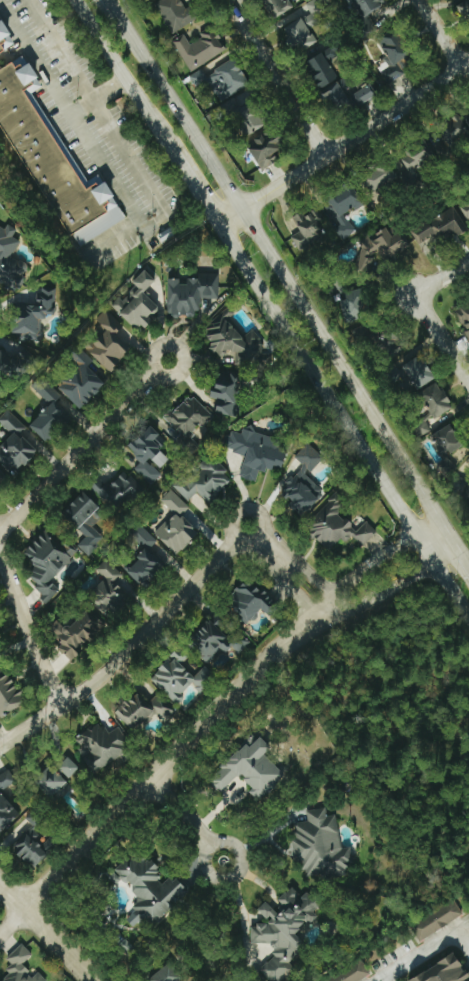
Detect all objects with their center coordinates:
road: (106, 0)
building: (278, 6)
building: (465, 6)
building: (363, 8)
building: (175, 13)
building: (303, 28)
road: (439, 34)
building: (199, 48)
building: (395, 55)
road: (276, 78)
building: (221, 79)
road: (133, 82)
building: (336, 83)
road: (99, 93)
road: (68, 107)
building: (247, 117)
parking lot: (91, 130)
building: (456, 130)
road: (345, 144)
building: (45, 147)
building: (266, 148)
building: (417, 159)
building: (379, 176)
road: (203, 194)
building: (464, 205)
building: (342, 210)
building: (438, 227)
building: (308, 230)
building: (379, 247)
building: (10, 261)
road: (280, 273)
road: (442, 276)
building: (190, 293)
building: (138, 301)
building: (355, 307)
building: (36, 313)
building: (464, 318)
road: (442, 337)
building: (108, 343)
building: (417, 373)
building: (80, 387)
building: (44, 390)
building: (227, 391)
building: (436, 399)
road: (344, 415)
building: (187, 417)
building: (49, 420)
building: (14, 444)
building: (448, 444)
road: (84, 446)
building: (256, 452)
building: (148, 455)
building: (2, 480)
building: (203, 482)
building: (302, 483)
building: (115, 491)
building: (466, 491)
building: (84, 521)
building: (175, 525)
building: (336, 525)
road: (463, 553)
road: (377, 559)
building: (47, 560)
building: (145, 567)
road: (316, 580)
road: (394, 584)
building: (106, 589)
road: (300, 593)
building: (252, 602)
building: (55, 628)
road: (30, 630)
road: (146, 632)
building: (79, 634)
building: (216, 640)
building: (0, 650)
building: (180, 677)
building: (9, 695)
building: (143, 710)
building: (103, 746)
building: (68, 768)
building: (248, 769)
road: (160, 770)
building: (54, 784)
building: (6, 801)
road: (182, 812)
building: (34, 842)
building: (320, 846)
road: (237, 851)
building: (149, 890)
building: (435, 919)
road: (44, 929)
road: (423, 952)
building: (19, 967)
building: (443, 971)
building: (349, 973)
building: (166, 974)

